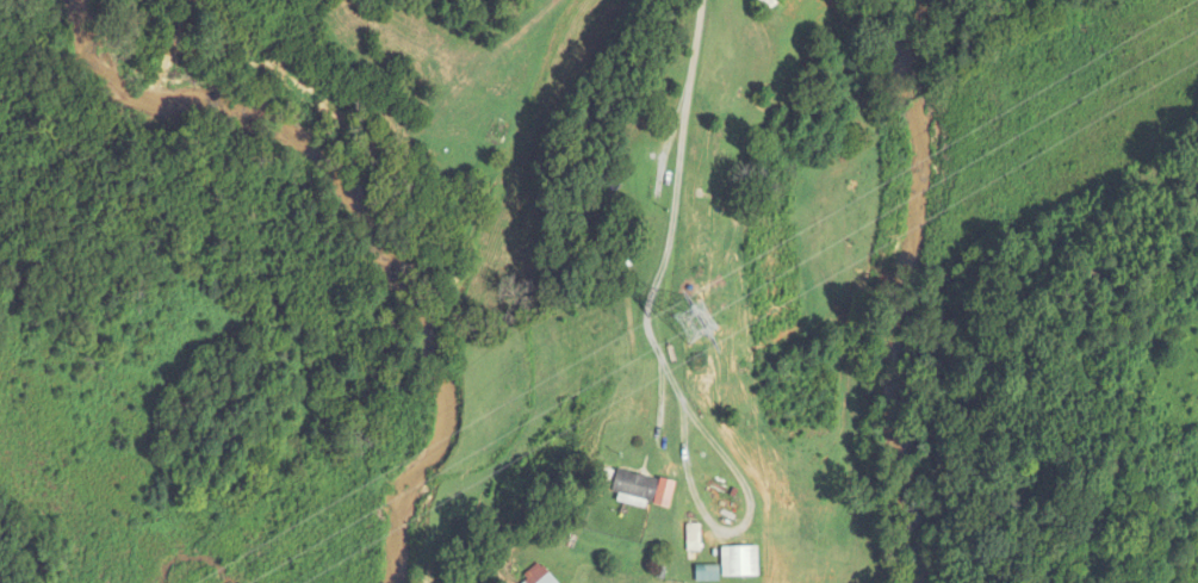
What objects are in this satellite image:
building: (764, 4)
road: (671, 211)
building: (625, 241)
power tower: (695, 322)
building: (603, 478)
building: (632, 490)
road: (739, 526)
building: (690, 538)
building: (741, 562)
building: (536, 576)

